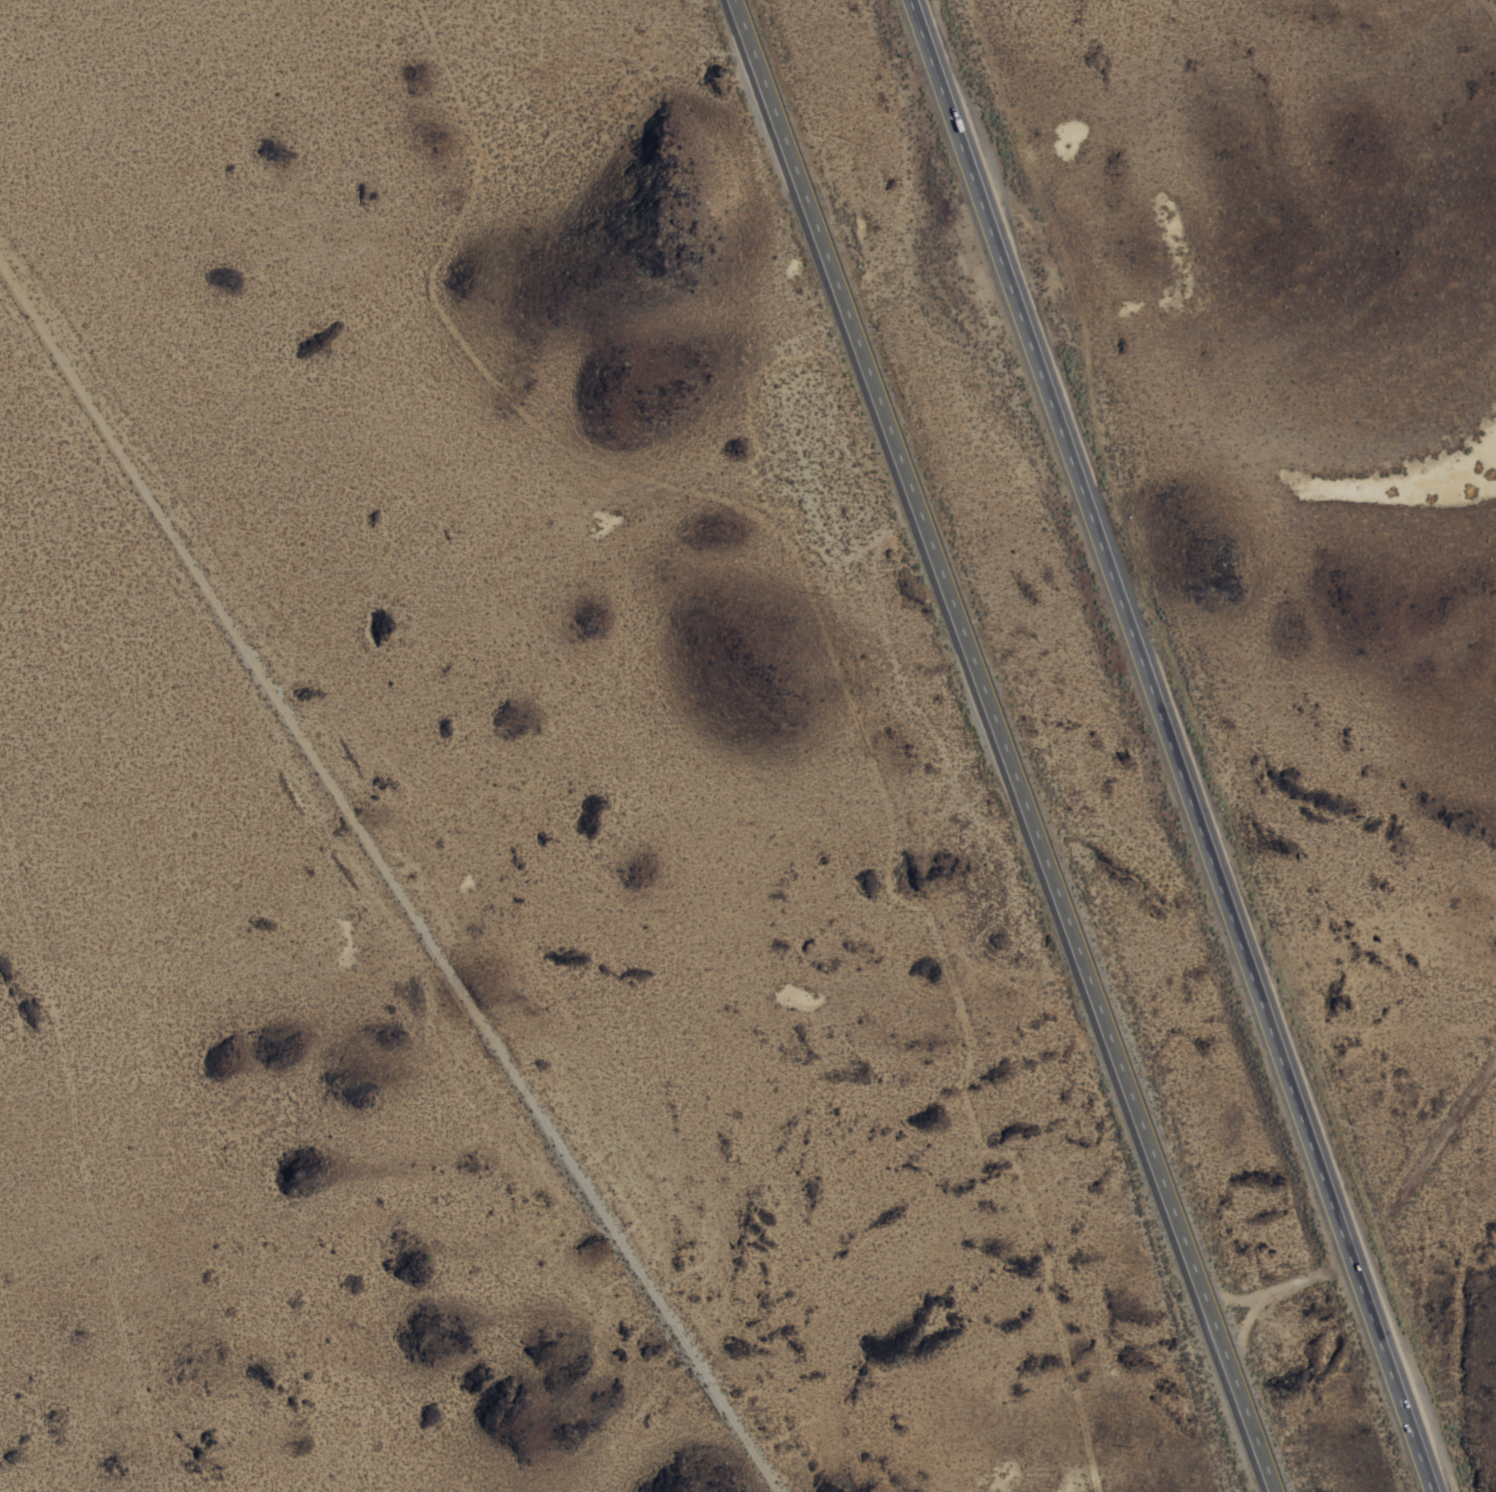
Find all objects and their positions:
road: (1002, 746)
road: (1168, 746)

